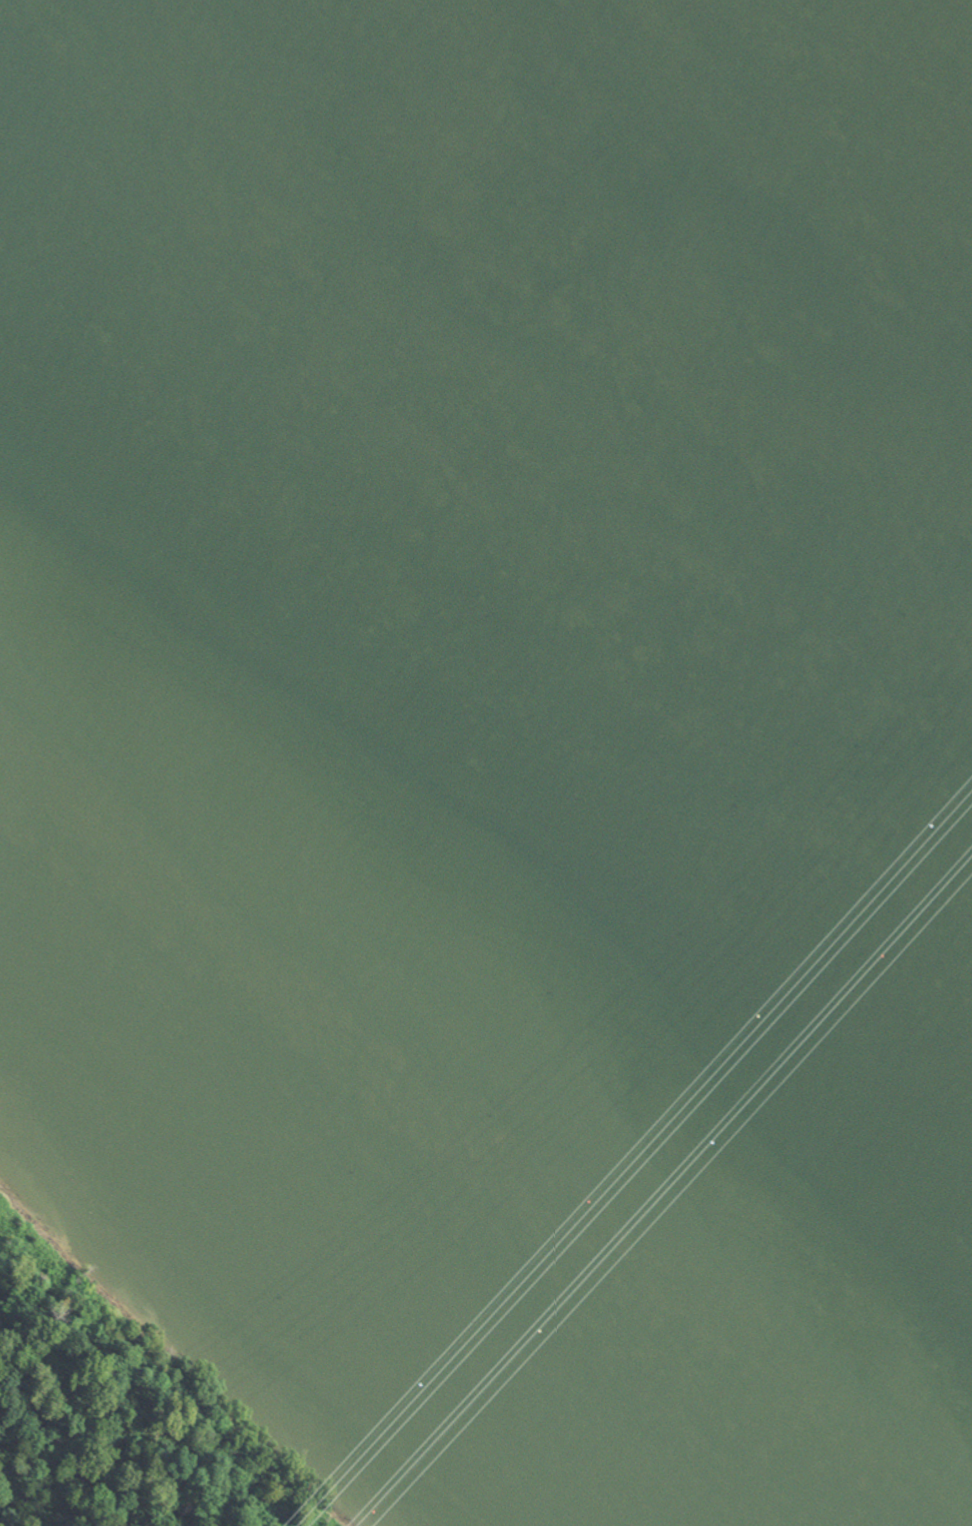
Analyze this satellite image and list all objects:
river: (641, 245)

